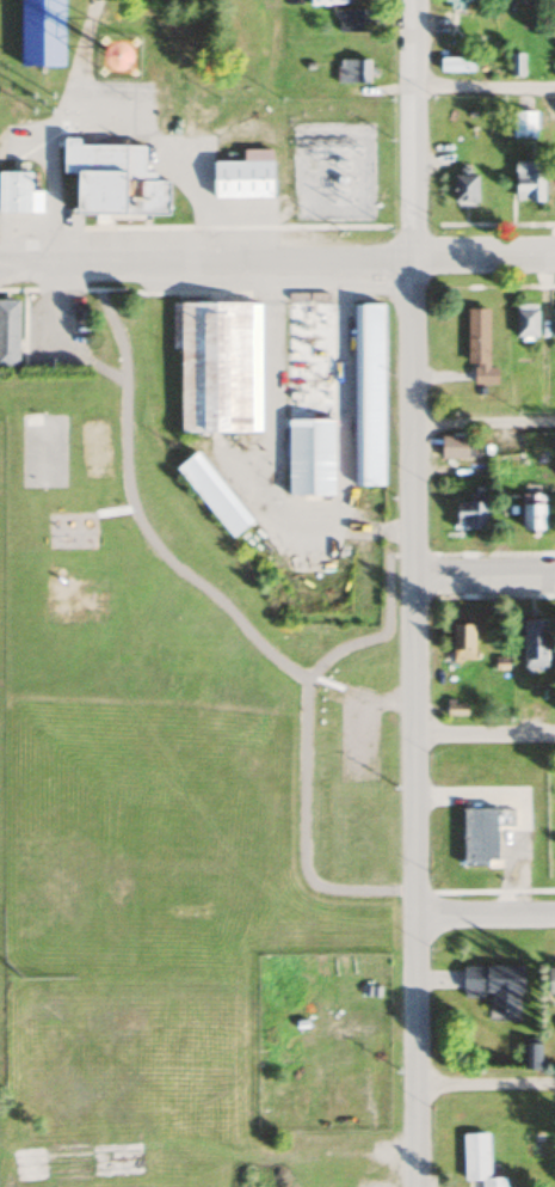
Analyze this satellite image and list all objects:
building: (457, 1)
building: (352, 22)
building: (41, 32)
building: (514, 66)
building: (455, 67)
building: (554, 71)
building: (351, 73)
road: (482, 87)
building: (523, 127)
power substation: (329, 171)
building: (242, 178)
building: (112, 182)
building: (528, 183)
building: (464, 189)
building: (18, 196)
road: (277, 257)
building: (525, 322)
building: (553, 325)
building: (8, 332)
building: (477, 347)
building: (217, 365)
building: (366, 394)
building: (310, 398)
road: (483, 424)
building: (456, 447)
building: (36, 460)
building: (211, 494)
building: (470, 512)
building: (531, 512)
road: (483, 575)
road: (413, 593)
building: (461, 642)
building: (534, 643)
building: (455, 708)
road: (483, 734)
building: (480, 837)
road: (483, 913)
building: (550, 979)
building: (494, 985)
building: (530, 1054)
road: (485, 1083)
building: (477, 1160)

